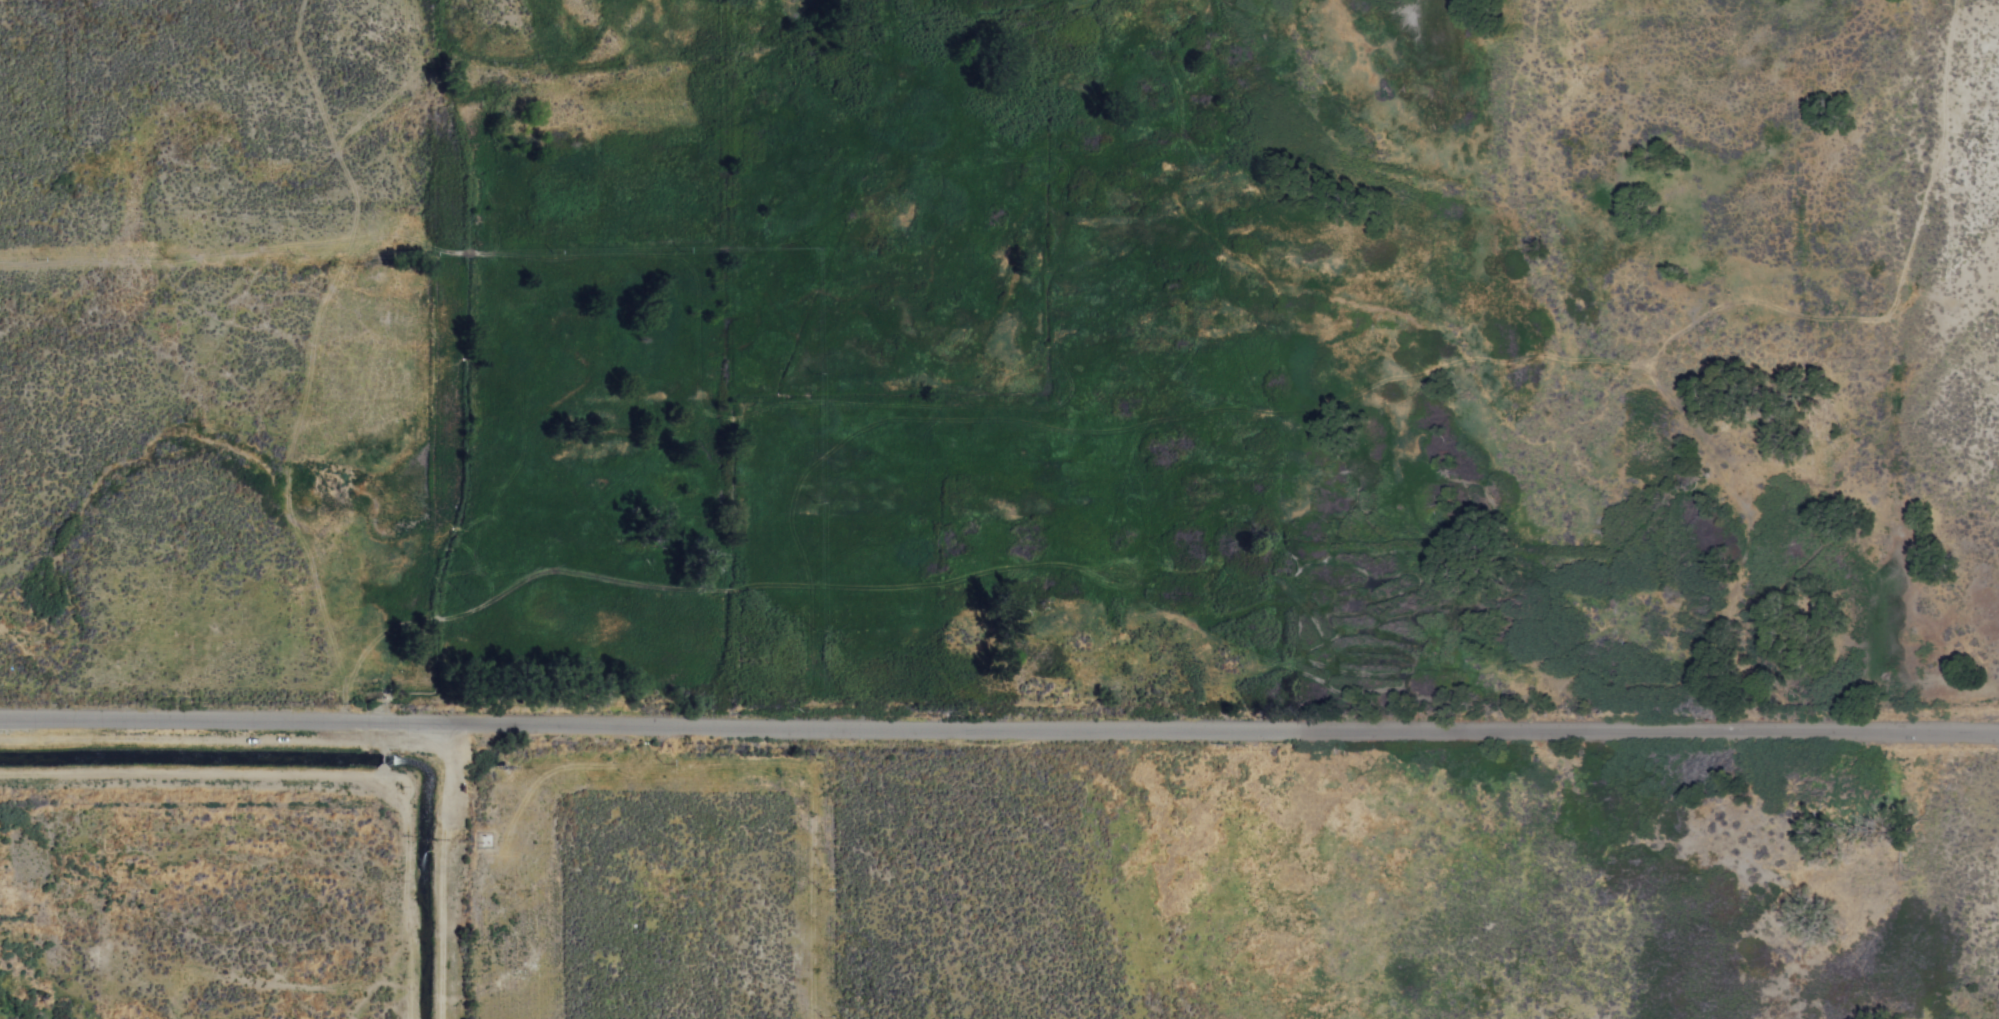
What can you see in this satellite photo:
road: (999, 729)

